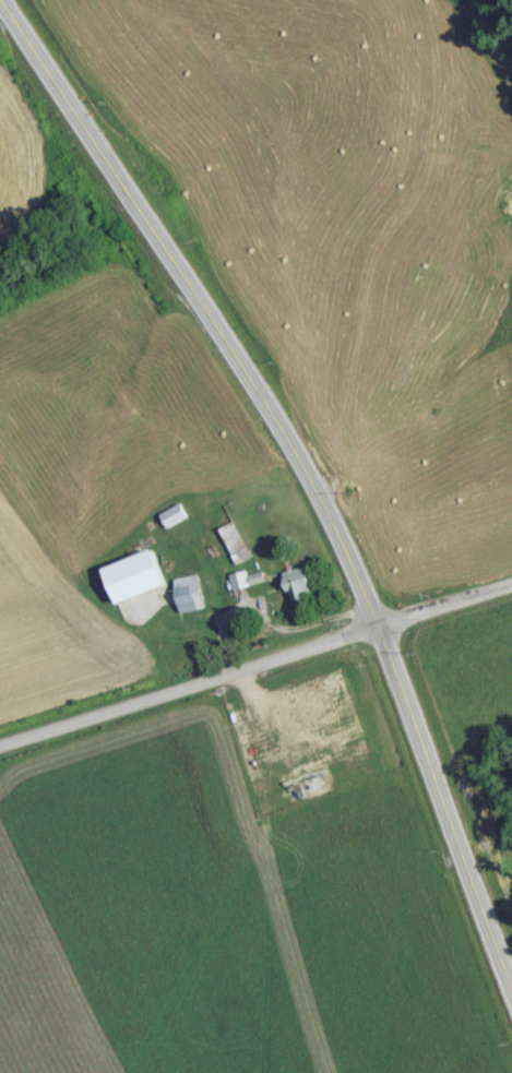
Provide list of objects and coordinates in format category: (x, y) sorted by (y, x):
road: (305, 474)
building: (240, 586)
building: (189, 594)
road: (255, 670)

